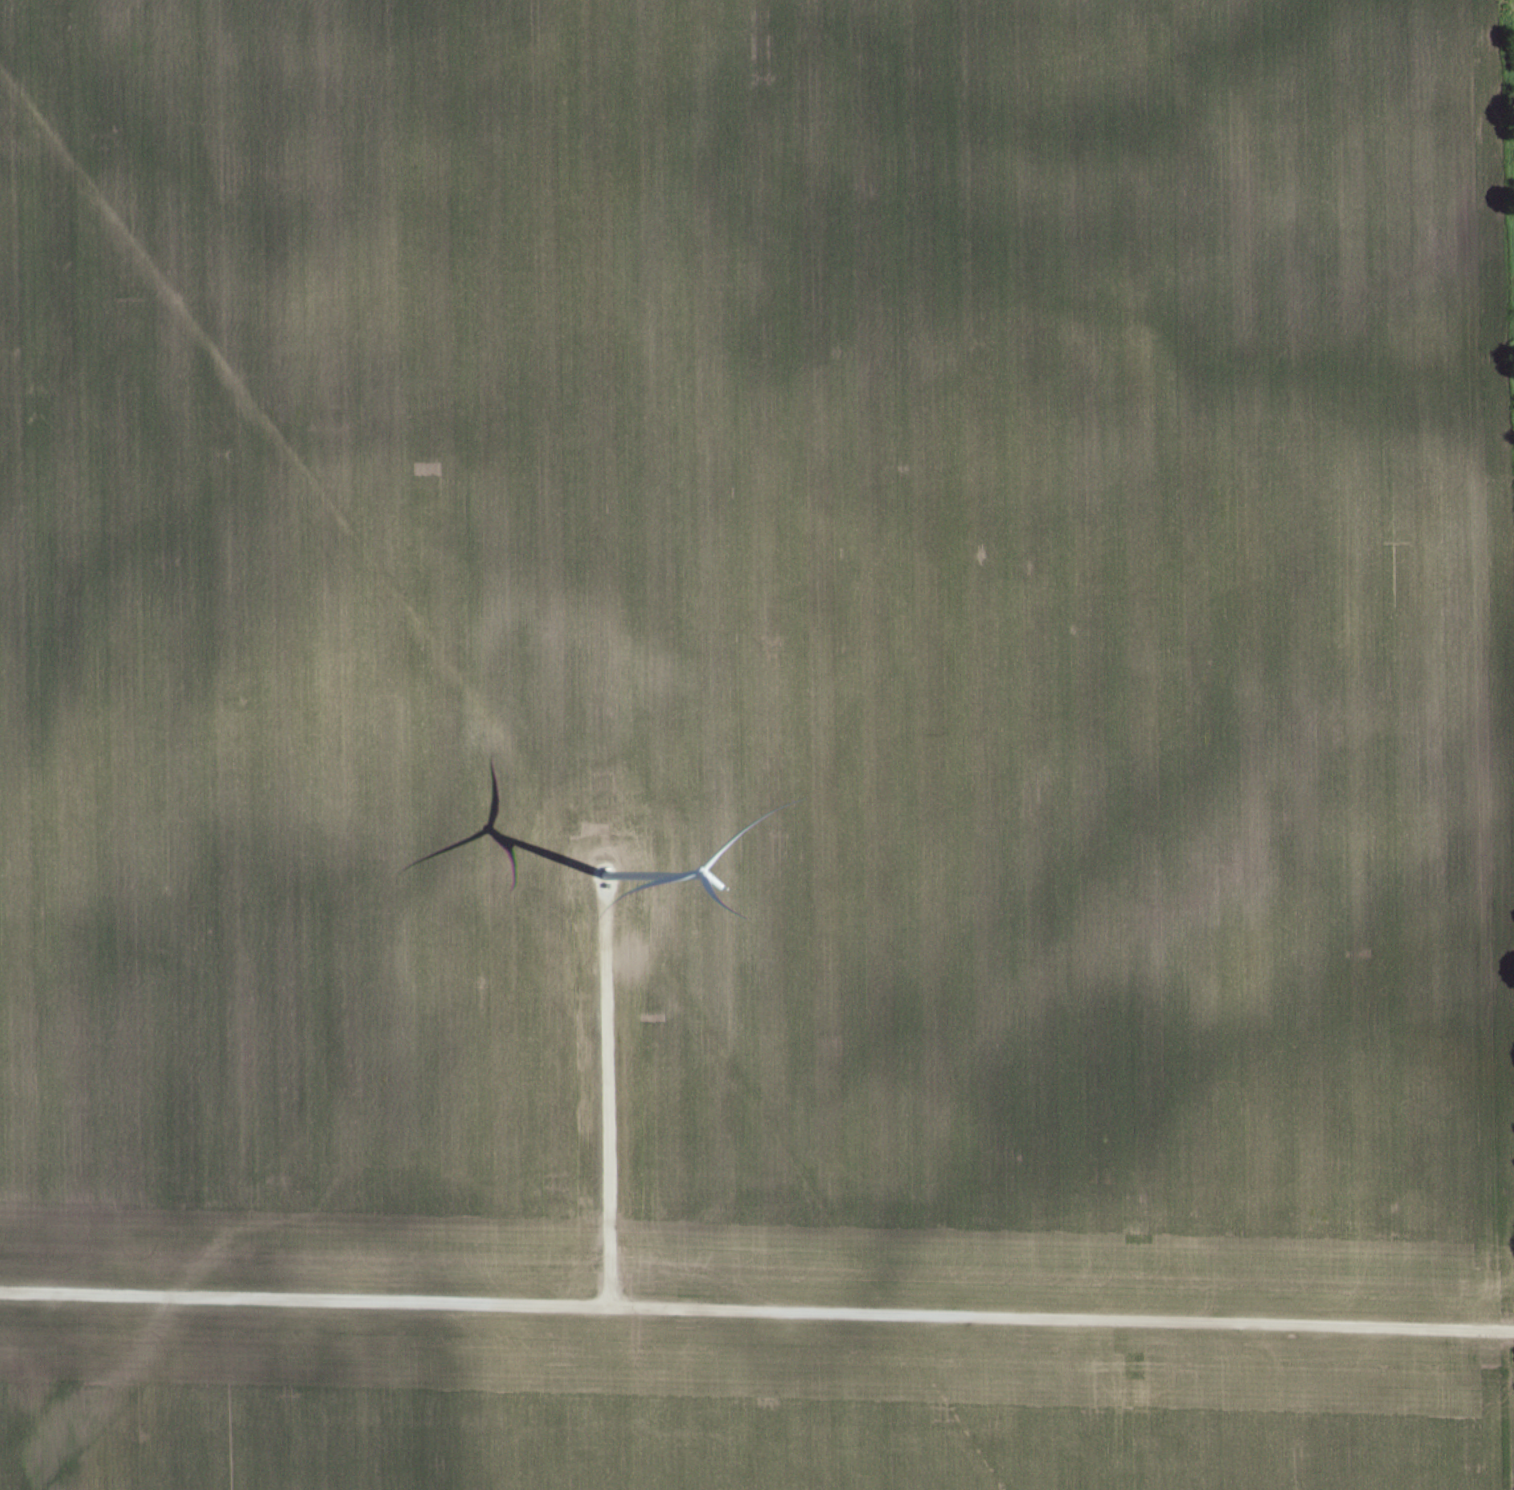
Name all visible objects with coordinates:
wind turbine: (591, 876)
road: (610, 1099)
road: (757, 1310)

